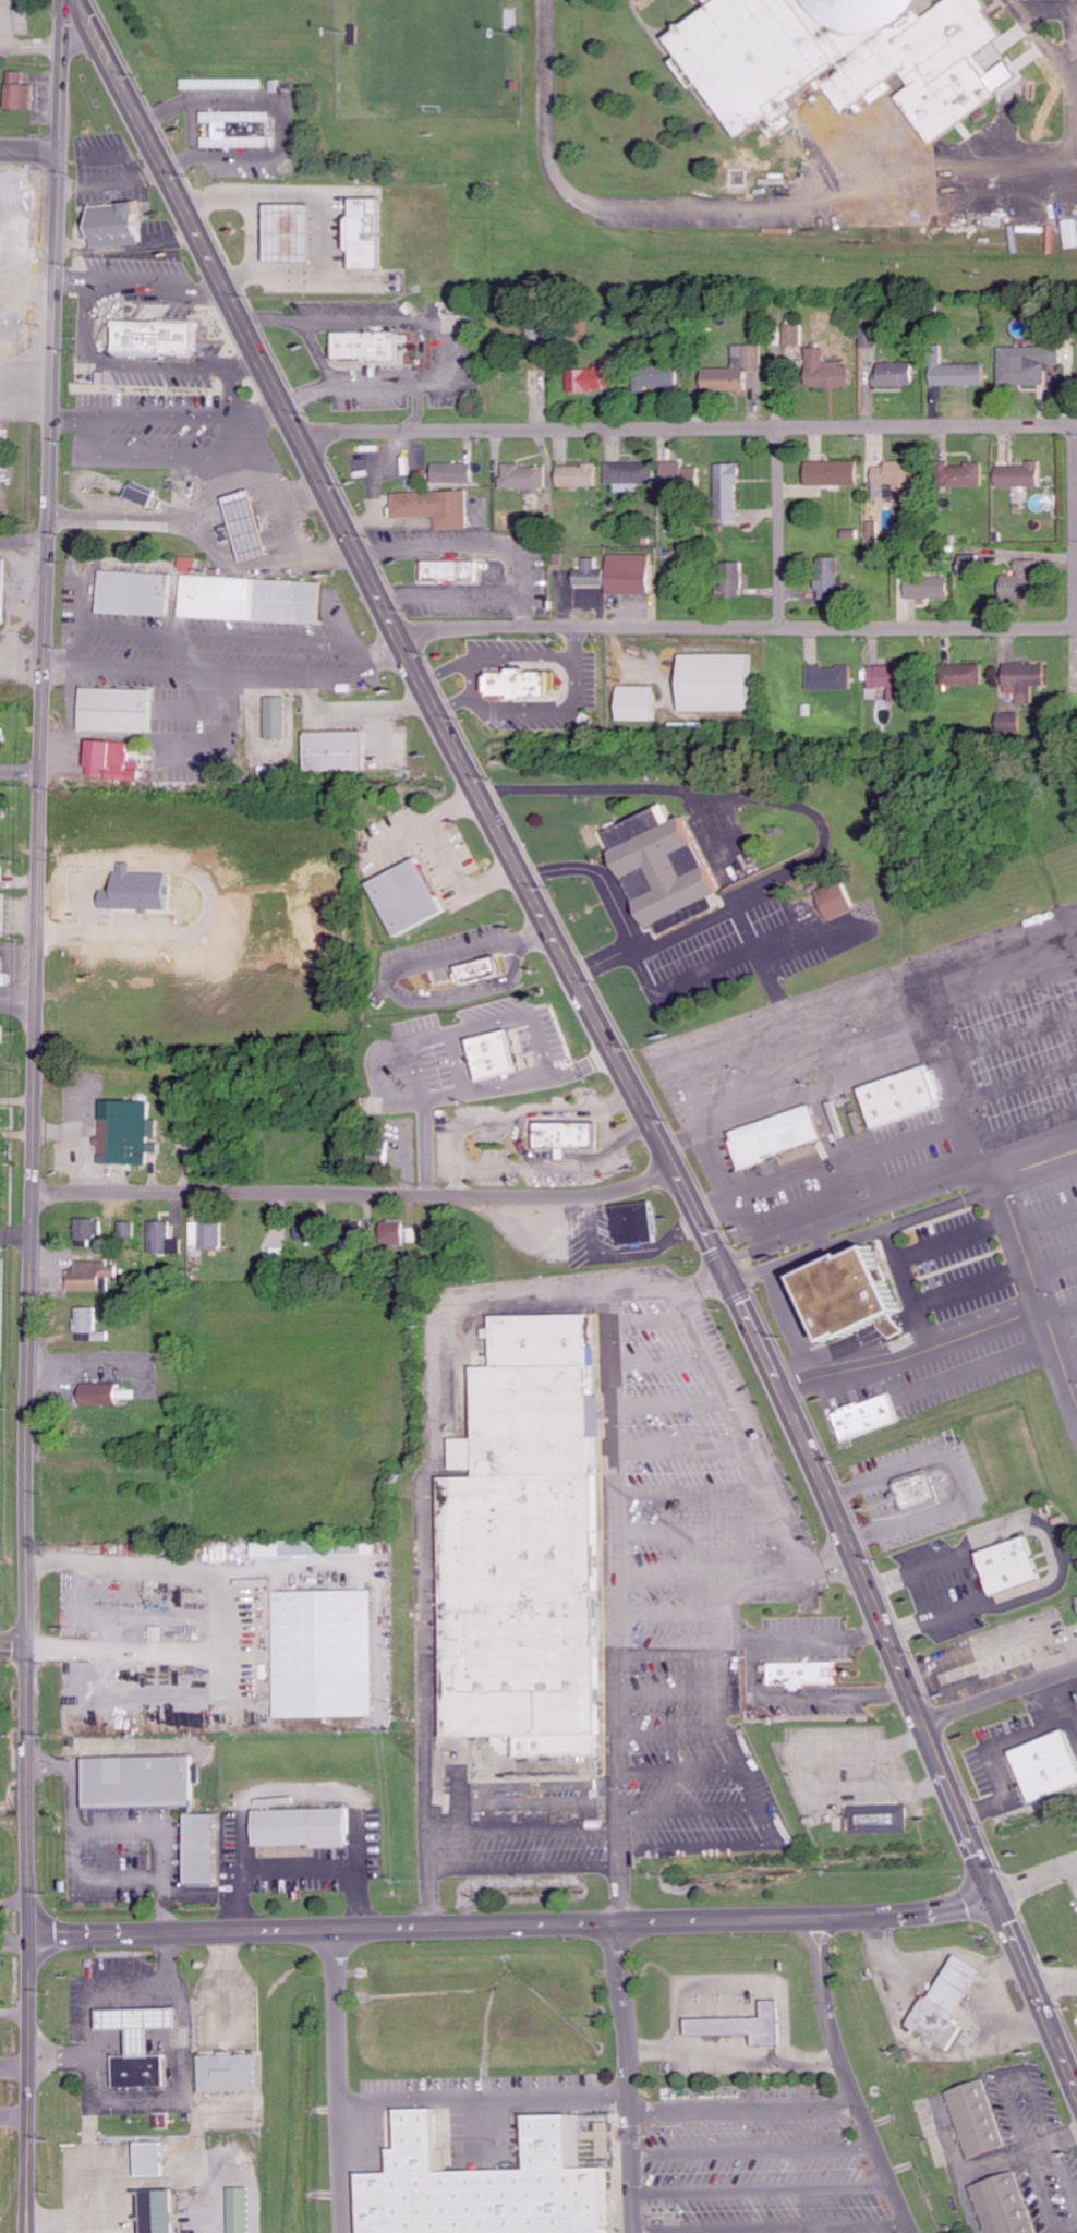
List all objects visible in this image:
park: (431, 47)
building: (833, 58)
building: (226, 84)
building: (21, 93)
building: (240, 117)
building: (229, 130)
building: (244, 143)
road: (28, 147)
building: (117, 224)
building: (295, 234)
gas station: (298, 234)
building: (372, 234)
road: (269, 317)
building: (162, 338)
building: (375, 347)
road: (316, 349)
building: (1027, 364)
road: (453, 367)
building: (734, 369)
building: (825, 370)
building: (953, 371)
building: (894, 373)
building: (655, 376)
building: (591, 379)
road: (419, 405)
road: (685, 424)
building: (451, 472)
building: (630, 472)
building: (831, 472)
building: (679, 473)
building: (579, 474)
building: (958, 474)
building: (1017, 474)
building: (523, 475)
building: (896, 476)
building: (727, 491)
building: (146, 494)
building: (433, 507)
road: (1073, 521)
building: (252, 526)
road: (782, 526)
road: (23, 546)
building: (190, 564)
building: (447, 569)
building: (590, 572)
building: (629, 574)
building: (731, 578)
building: (827, 578)
building: (1019, 582)
building: (927, 587)
building: (3, 590)
building: (138, 593)
building: (255, 600)
road: (737, 628)
building: (960, 674)
building: (1022, 675)
building: (828, 677)
building: (714, 681)
building: (513, 683)
building: (636, 702)
building: (123, 710)
building: (280, 717)
building: (1012, 722)
building: (3, 738)
building: (342, 750)
building: (117, 760)
road: (20, 773)
building: (4, 813)
building: (2, 862)
building: (656, 868)
building: (412, 896)
building: (832, 900)
building: (3, 915)
road: (1000, 937)
building: (486, 970)
building: (4, 973)
road: (1007, 986)
road: (17, 1002)
road: (603, 1031)
road: (1015, 1034)
building: (2, 1038)
building: (505, 1054)
road: (1024, 1085)
building: (897, 1096)
road: (33, 1115)
road: (1031, 1131)
building: (132, 1133)
building: (572, 1135)
building: (770, 1135)
road: (834, 1163)
road: (1039, 1172)
road: (1000, 1184)
road: (846, 1190)
road: (354, 1193)
road: (857, 1216)
building: (639, 1223)
road: (1048, 1224)
building: (129, 1230)
building: (92, 1233)
building: (210, 1234)
building: (399, 1234)
road: (864, 1234)
road: (15, 1236)
building: (168, 1239)
road: (956, 1241)
road: (1054, 1269)
building: (96, 1277)
road: (910, 1288)
road: (973, 1289)
building: (832, 1292)
road: (1062, 1318)
road: (650, 1321)
building: (92, 1326)
building: (544, 1337)
road: (915, 1359)
road: (658, 1360)
road: (1069, 1363)
road: (961, 1376)
building: (107, 1395)
road: (668, 1400)
building: (863, 1417)
building: (535, 1421)
road: (738, 1426)
road: (679, 1447)
road: (428, 1475)
road: (688, 1487)
building: (915, 1490)
road: (698, 1526)
building: (528, 1536)
building: (301, 1549)
building: (1002, 1555)
road: (734, 1568)
building: (1008, 1577)
building: (1076, 1602)
road: (615, 1606)
building: (530, 1610)
road: (668, 1610)
building: (530, 1635)
road: (13, 1644)
road: (669, 1650)
building: (327, 1651)
building: (799, 1673)
road: (669, 1687)
building: (534, 1699)
road: (1001, 1700)
road: (671, 1730)
building: (1044, 1765)
road: (681, 1766)
road: (750, 1779)
building: (147, 1783)
road: (691, 1808)
building: (880, 1819)
building: (307, 1827)
road: (525, 1828)
building: (209, 1849)
road: (527, 1867)
road: (1037, 1881)
road: (513, 1923)
road: (827, 1936)
road: (809, 1938)
road: (1055, 1983)
gas station: (949, 1987)
building: (738, 2024)
building: (928, 2024)
building: (146, 2045)
building: (232, 2073)
road: (628, 2077)
road: (339, 2079)
road: (484, 2097)
road: (858, 2099)
road: (745, 2108)
building: (976, 2117)
building: (164, 2121)
road: (754, 2148)
building: (156, 2160)
building: (486, 2185)
road: (763, 2186)
building: (1003, 2205)
road: (772, 2225)
building: (171, 2232)

